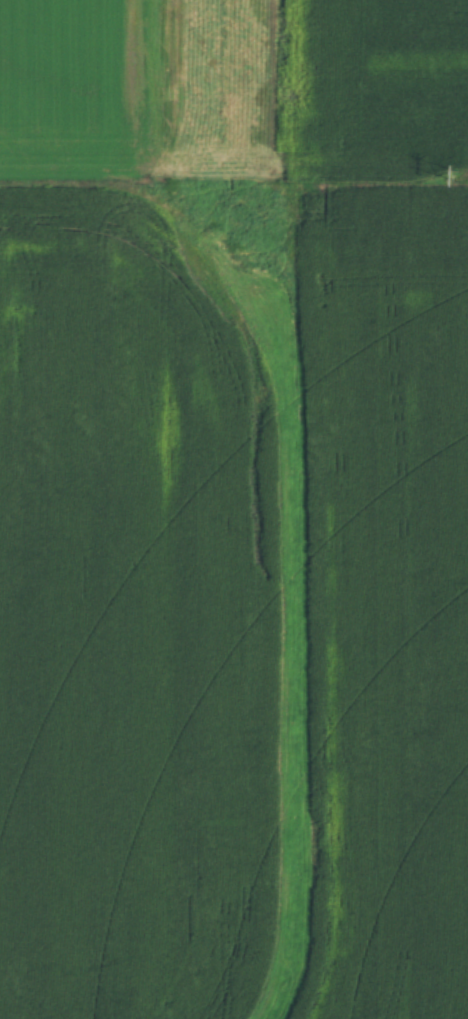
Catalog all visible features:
power tower: (459, 182)

